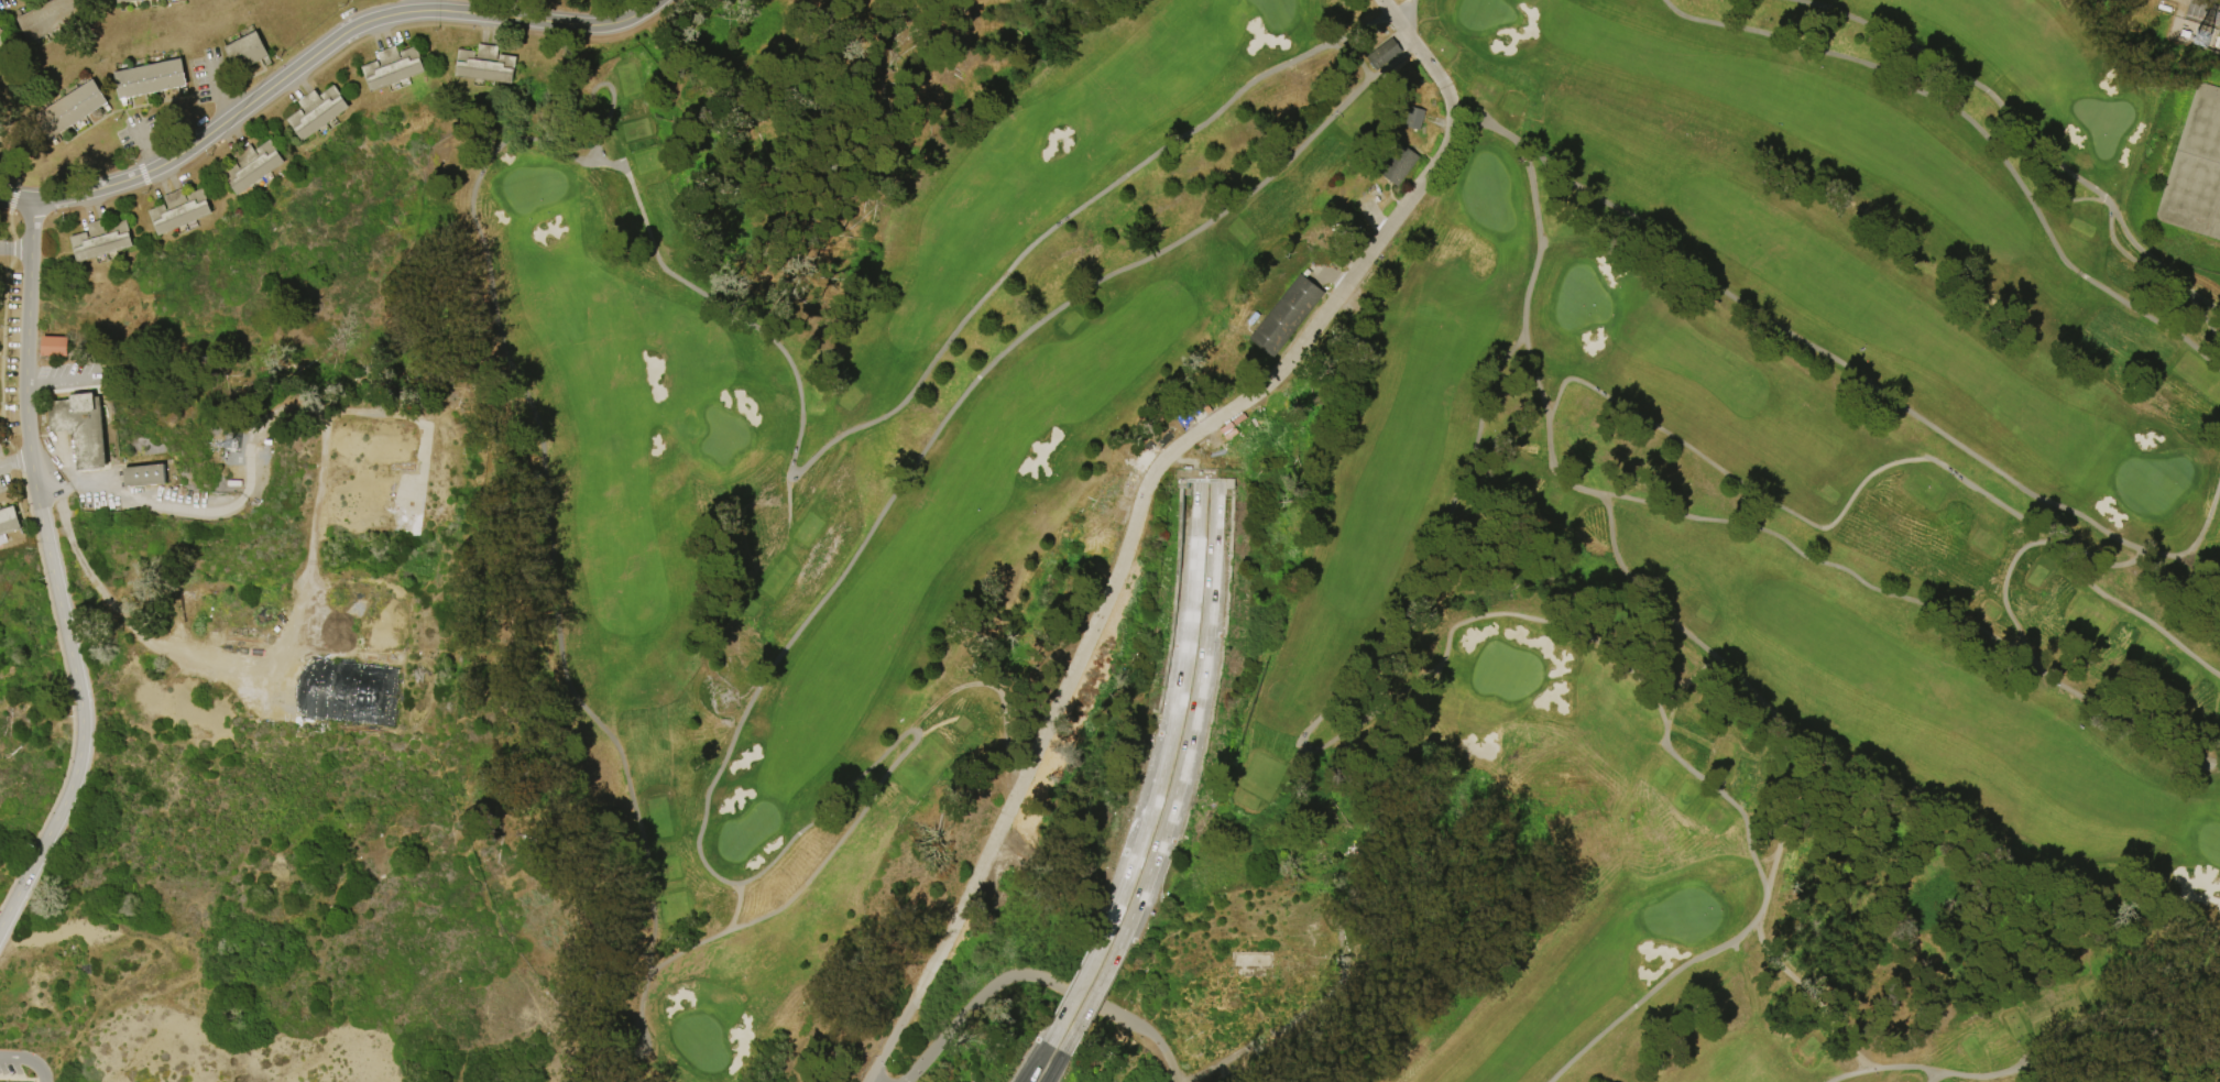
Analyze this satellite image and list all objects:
building: (130, 1)
road: (2209, 2)
road: (414, 6)
park: (1276, 12)
road: (1406, 12)
park: (1483, 14)
building: (53, 18)
road: (1360, 28)
building: (1, 33)
road: (327, 43)
building: (249, 53)
building: (1381, 53)
building: (486, 66)
building: (394, 68)
building: (152, 81)
road: (218, 81)
road: (1981, 89)
road: (227, 106)
building: (74, 111)
building: (318, 112)
building: (2199, 112)
building: (1411, 118)
road: (1978, 130)
road: (144, 140)
road: (153, 159)
building: (1399, 165)
building: (254, 166)
park: (528, 187)
park: (1487, 196)
road: (15, 197)
building: (182, 211)
building: (102, 240)
road: (14, 250)
road: (2185, 289)
building: (1286, 315)
road: (25, 330)
building: (56, 347)
road: (920, 378)
road: (67, 380)
road: (33, 383)
road: (1875, 389)
road: (528, 425)
building: (84, 429)
road: (22, 459)
road: (8, 463)
parking lot: (3, 473)
building: (145, 477)
road: (1139, 501)
road: (156, 502)
park: (1455, 506)
building: (8, 520)
road: (1800, 520)
park: (1109, 540)
road: (1873, 591)
road: (2002, 594)
road: (2131, 612)
road: (122, 620)
road: (780, 652)
park: (1505, 671)
road: (80, 699)
road: (1321, 714)
road: (1173, 715)
road: (1189, 720)
park: (745, 831)
park: (2210, 839)
road: (734, 908)
park: (1683, 914)
road: (1764, 944)
road: (1037, 977)
road: (1074, 993)
road: (1649, 993)
road: (639, 999)
road: (1090, 1001)
park: (697, 1042)
road: (14, 1058)
road: (1036, 1063)
road: (1053, 1068)
road: (39, 1069)
road: (1888, 1069)
road: (1982, 1075)

